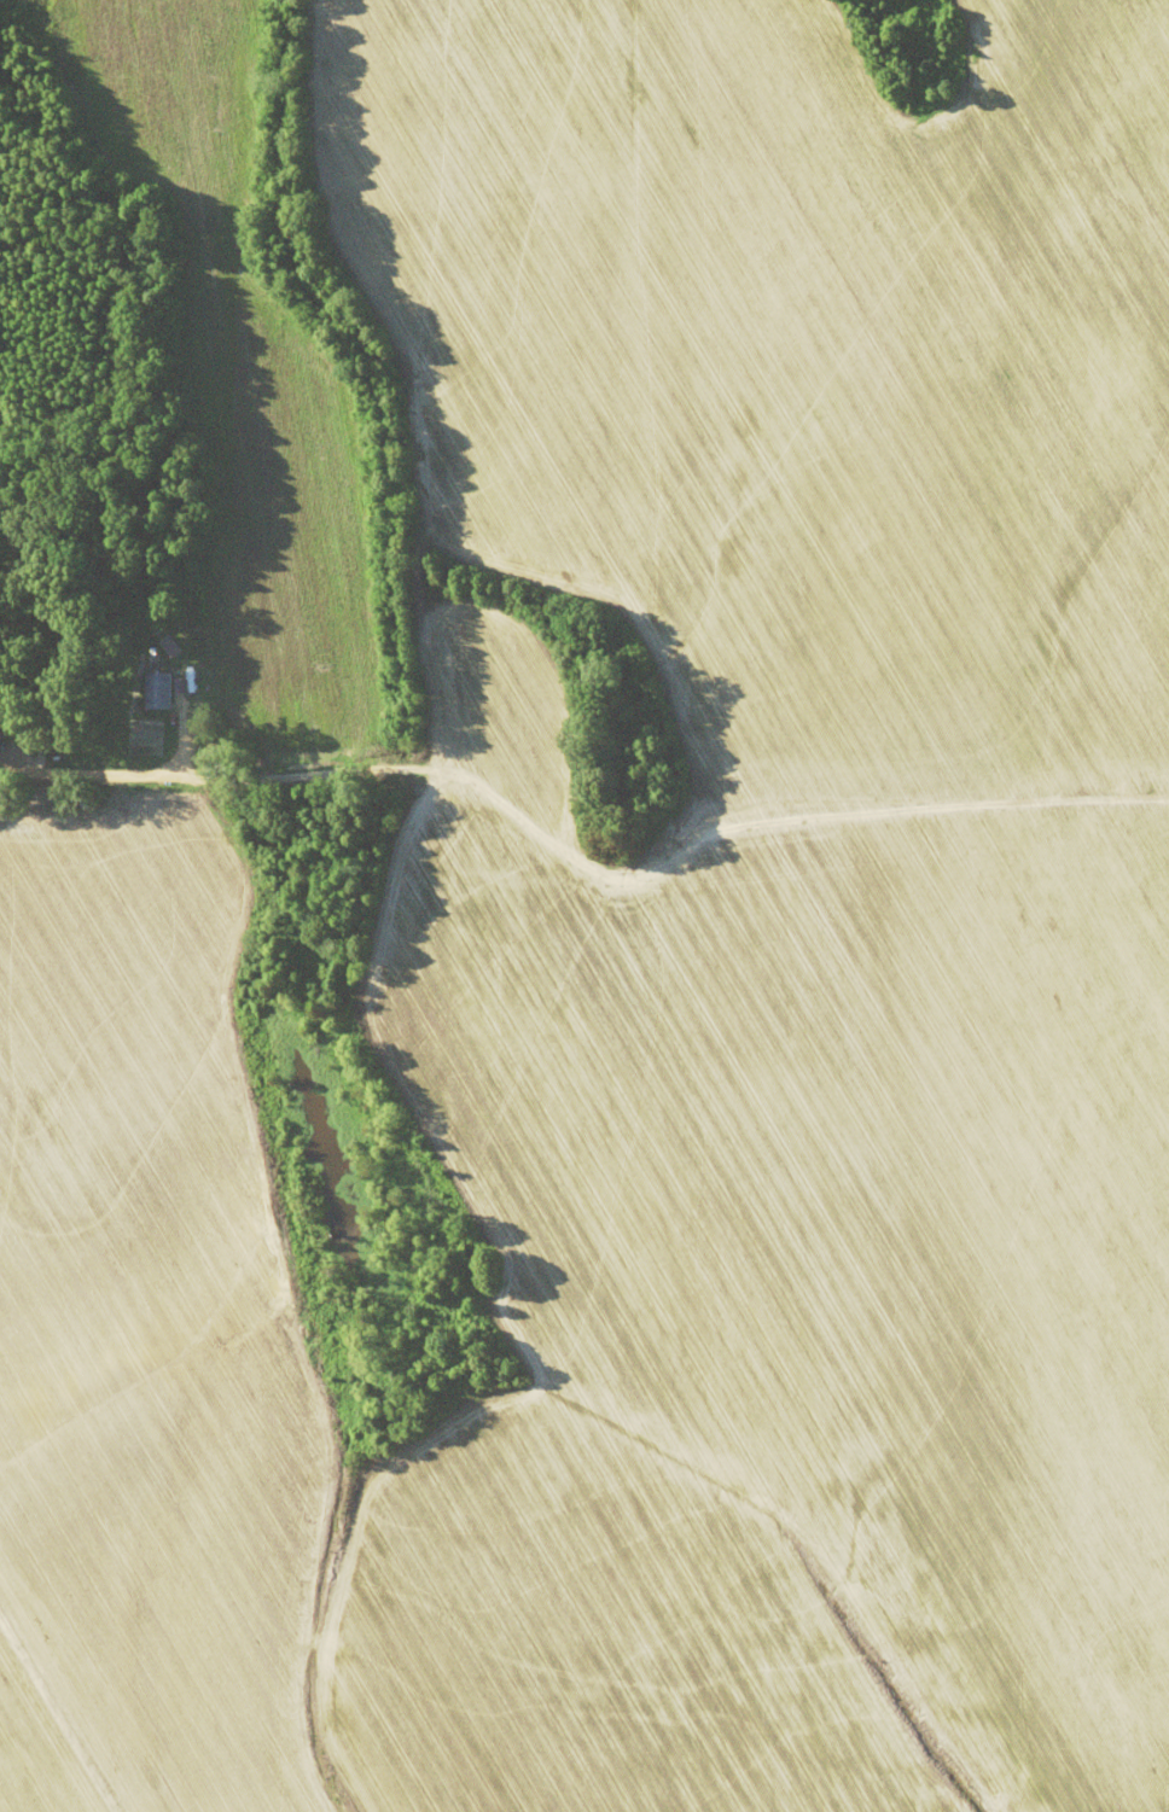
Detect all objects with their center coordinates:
road: (175, 670)
building: (159, 691)
road: (89, 775)

